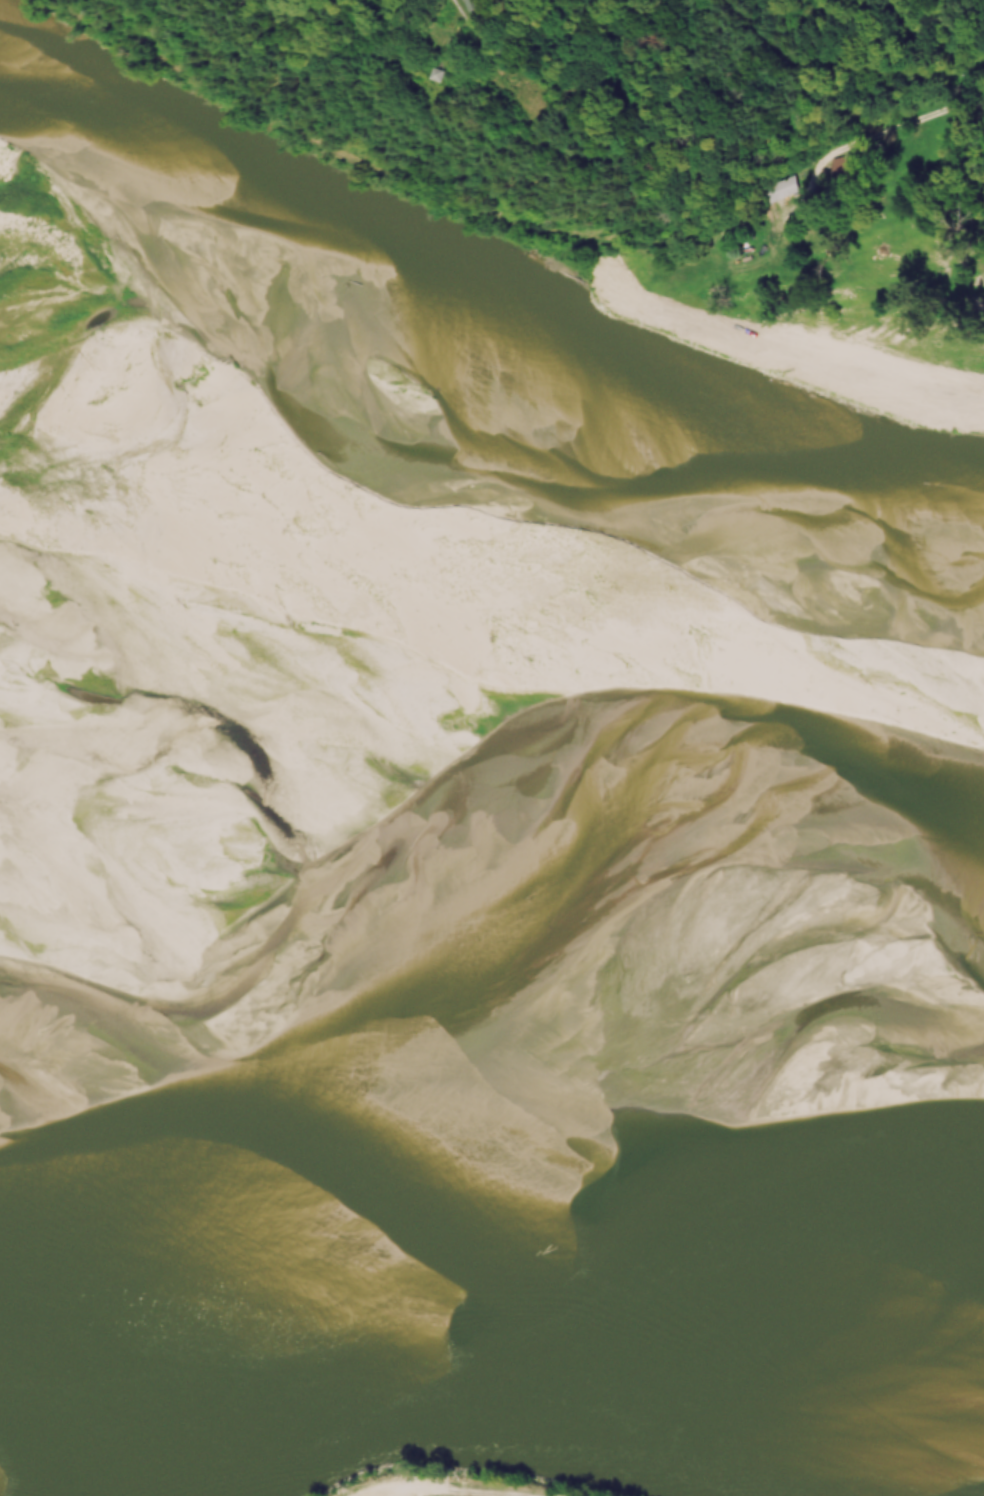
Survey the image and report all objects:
building: (481, 4)
building: (442, 74)
road: (895, 129)
building: (848, 168)
building: (780, 190)
river: (426, 1302)
road: (450, 1488)

